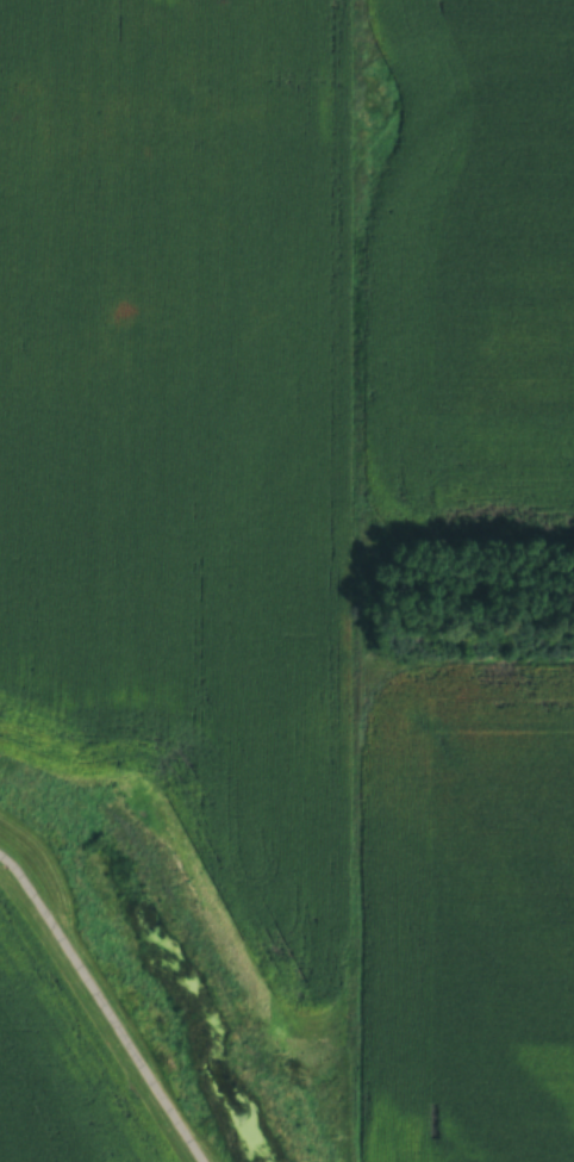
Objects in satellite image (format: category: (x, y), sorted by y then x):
crop: (473, 267)
crop: (466, 912)
road: (102, 1007)

